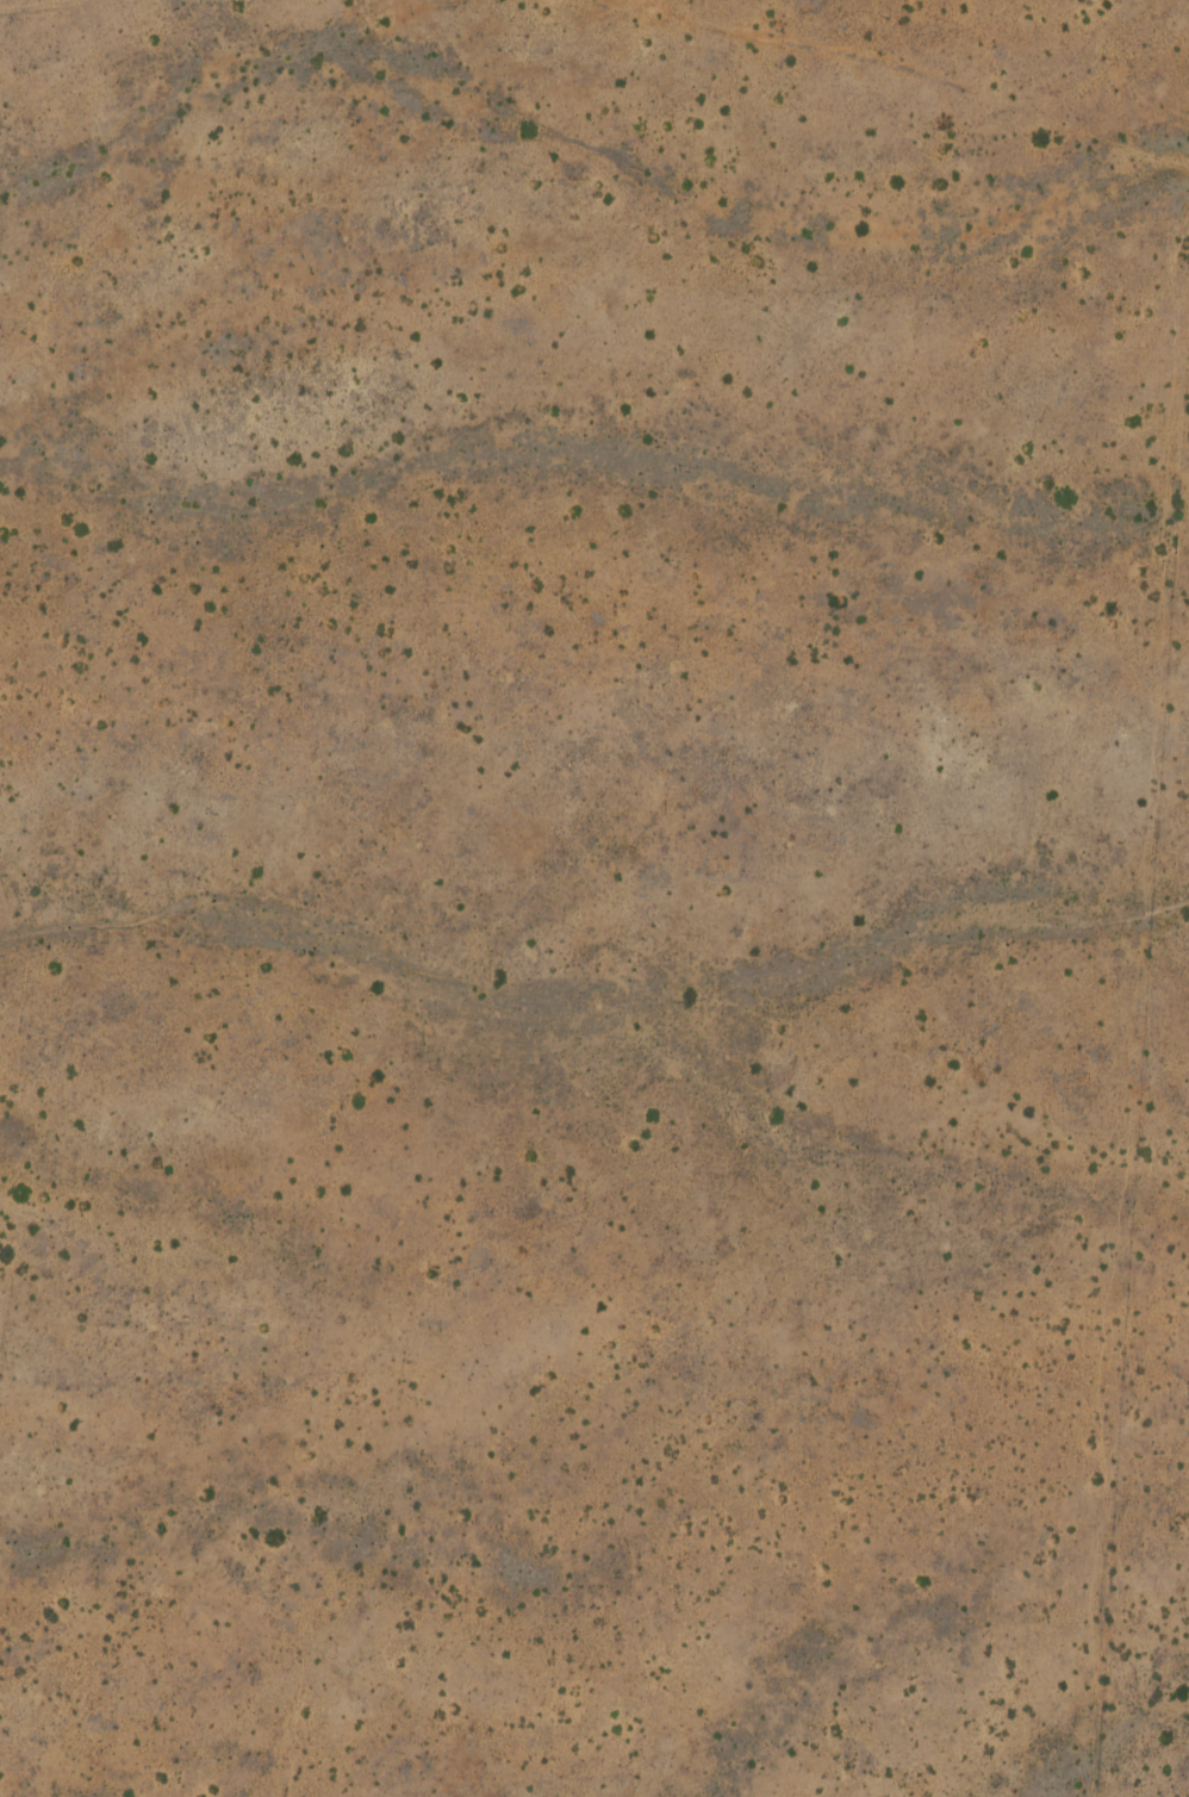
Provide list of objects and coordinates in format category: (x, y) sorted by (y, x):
road: (110, 24)

